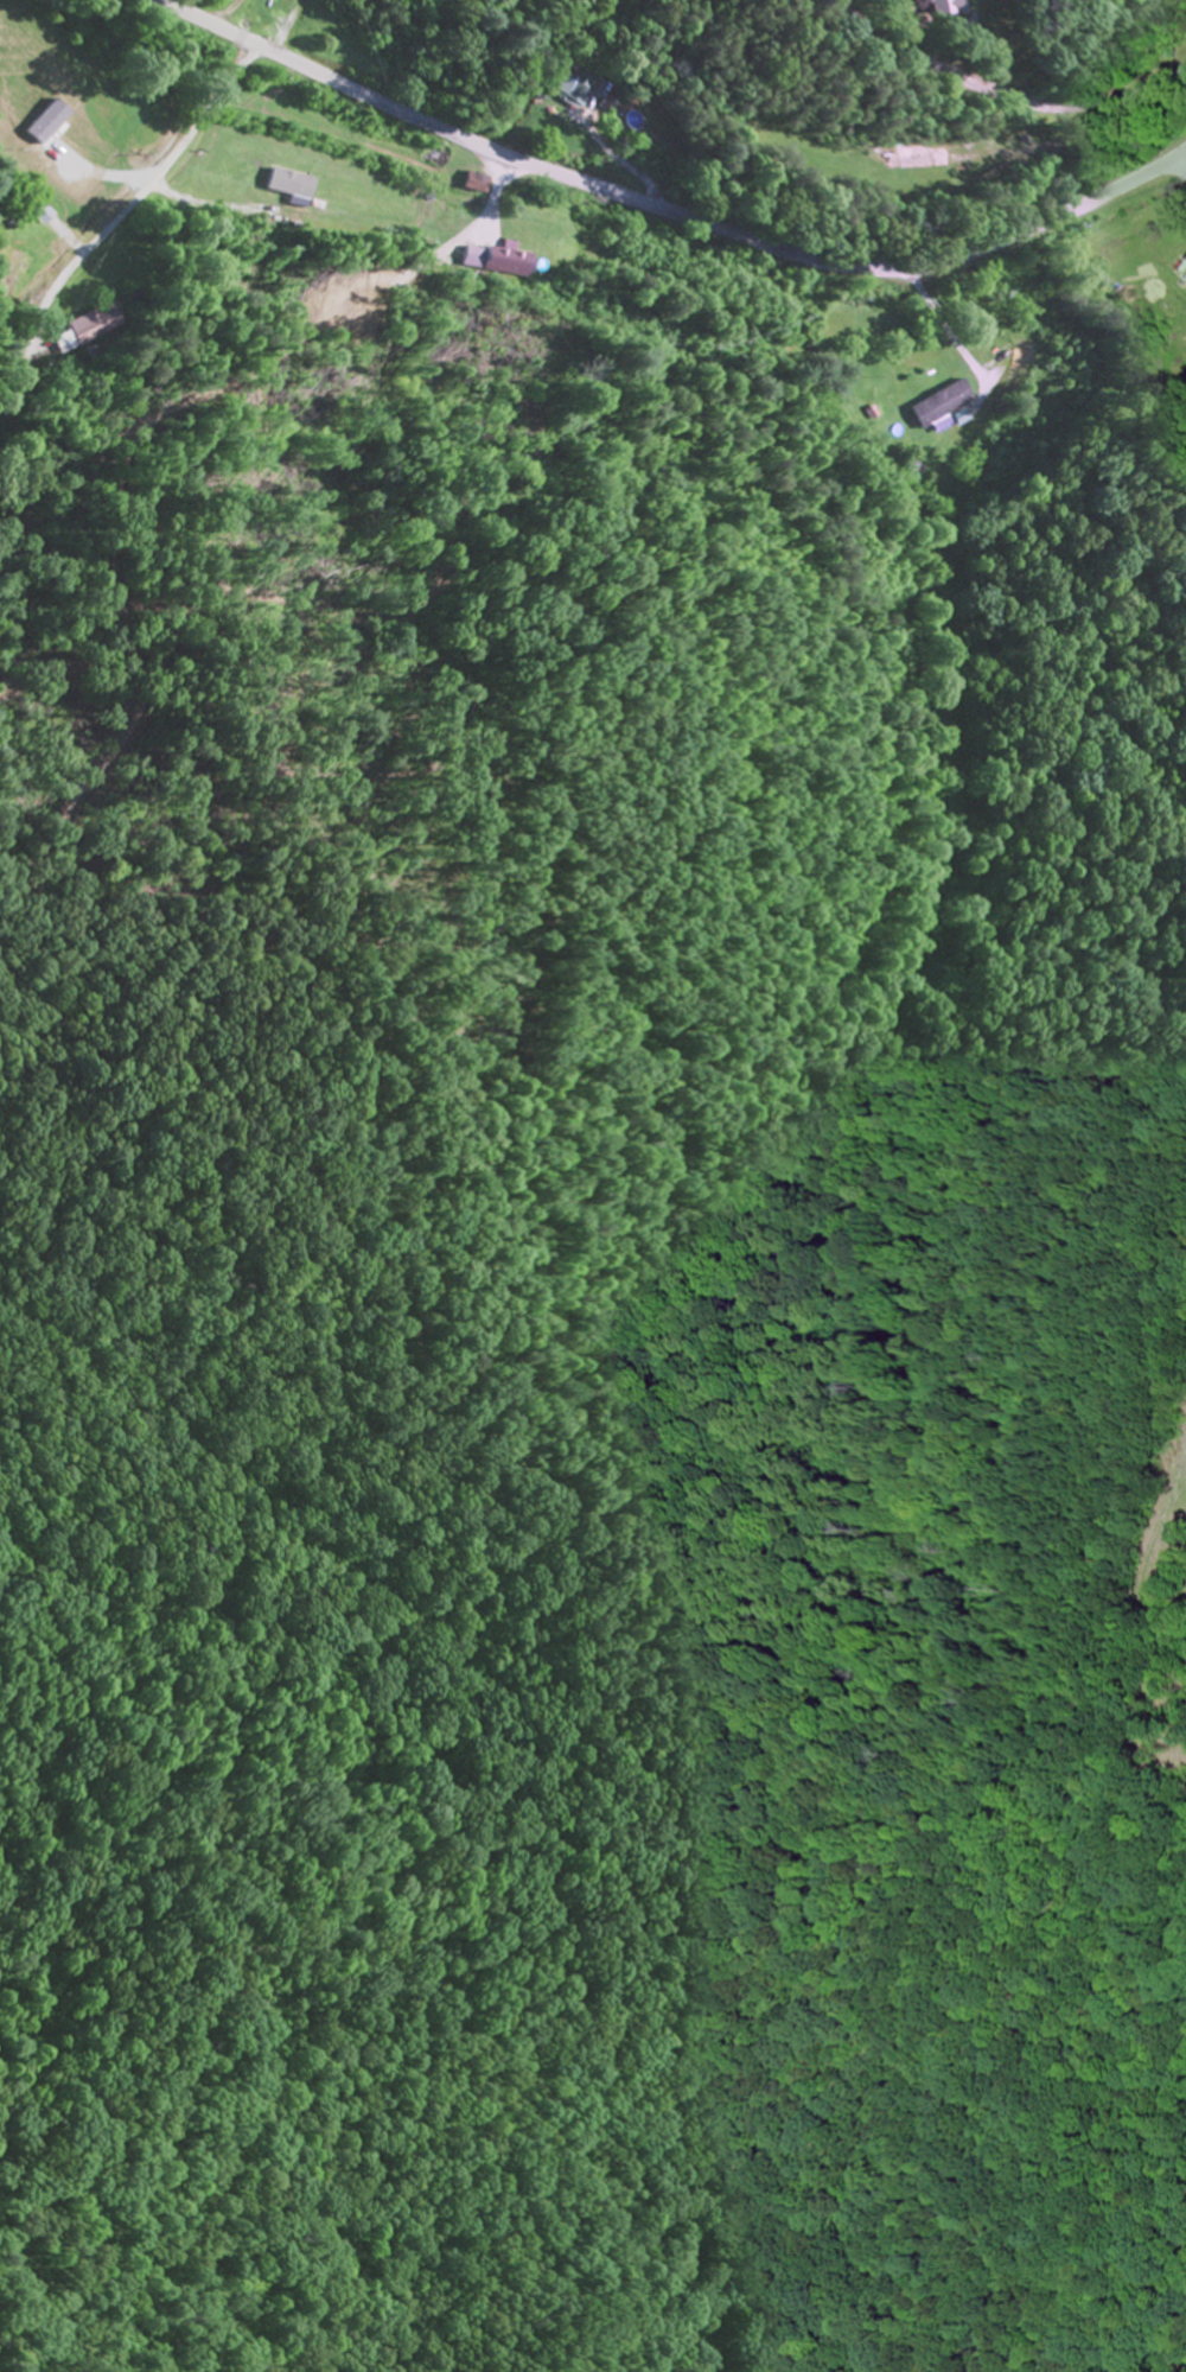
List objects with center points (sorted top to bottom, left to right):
road: (1181, 2)
building: (954, 8)
building: (574, 88)
road: (976, 119)
road: (1180, 165)
road: (667, 210)
road: (121, 218)
building: (496, 263)
building: (9, 274)
building: (83, 330)
road: (796, 375)
building: (940, 406)

